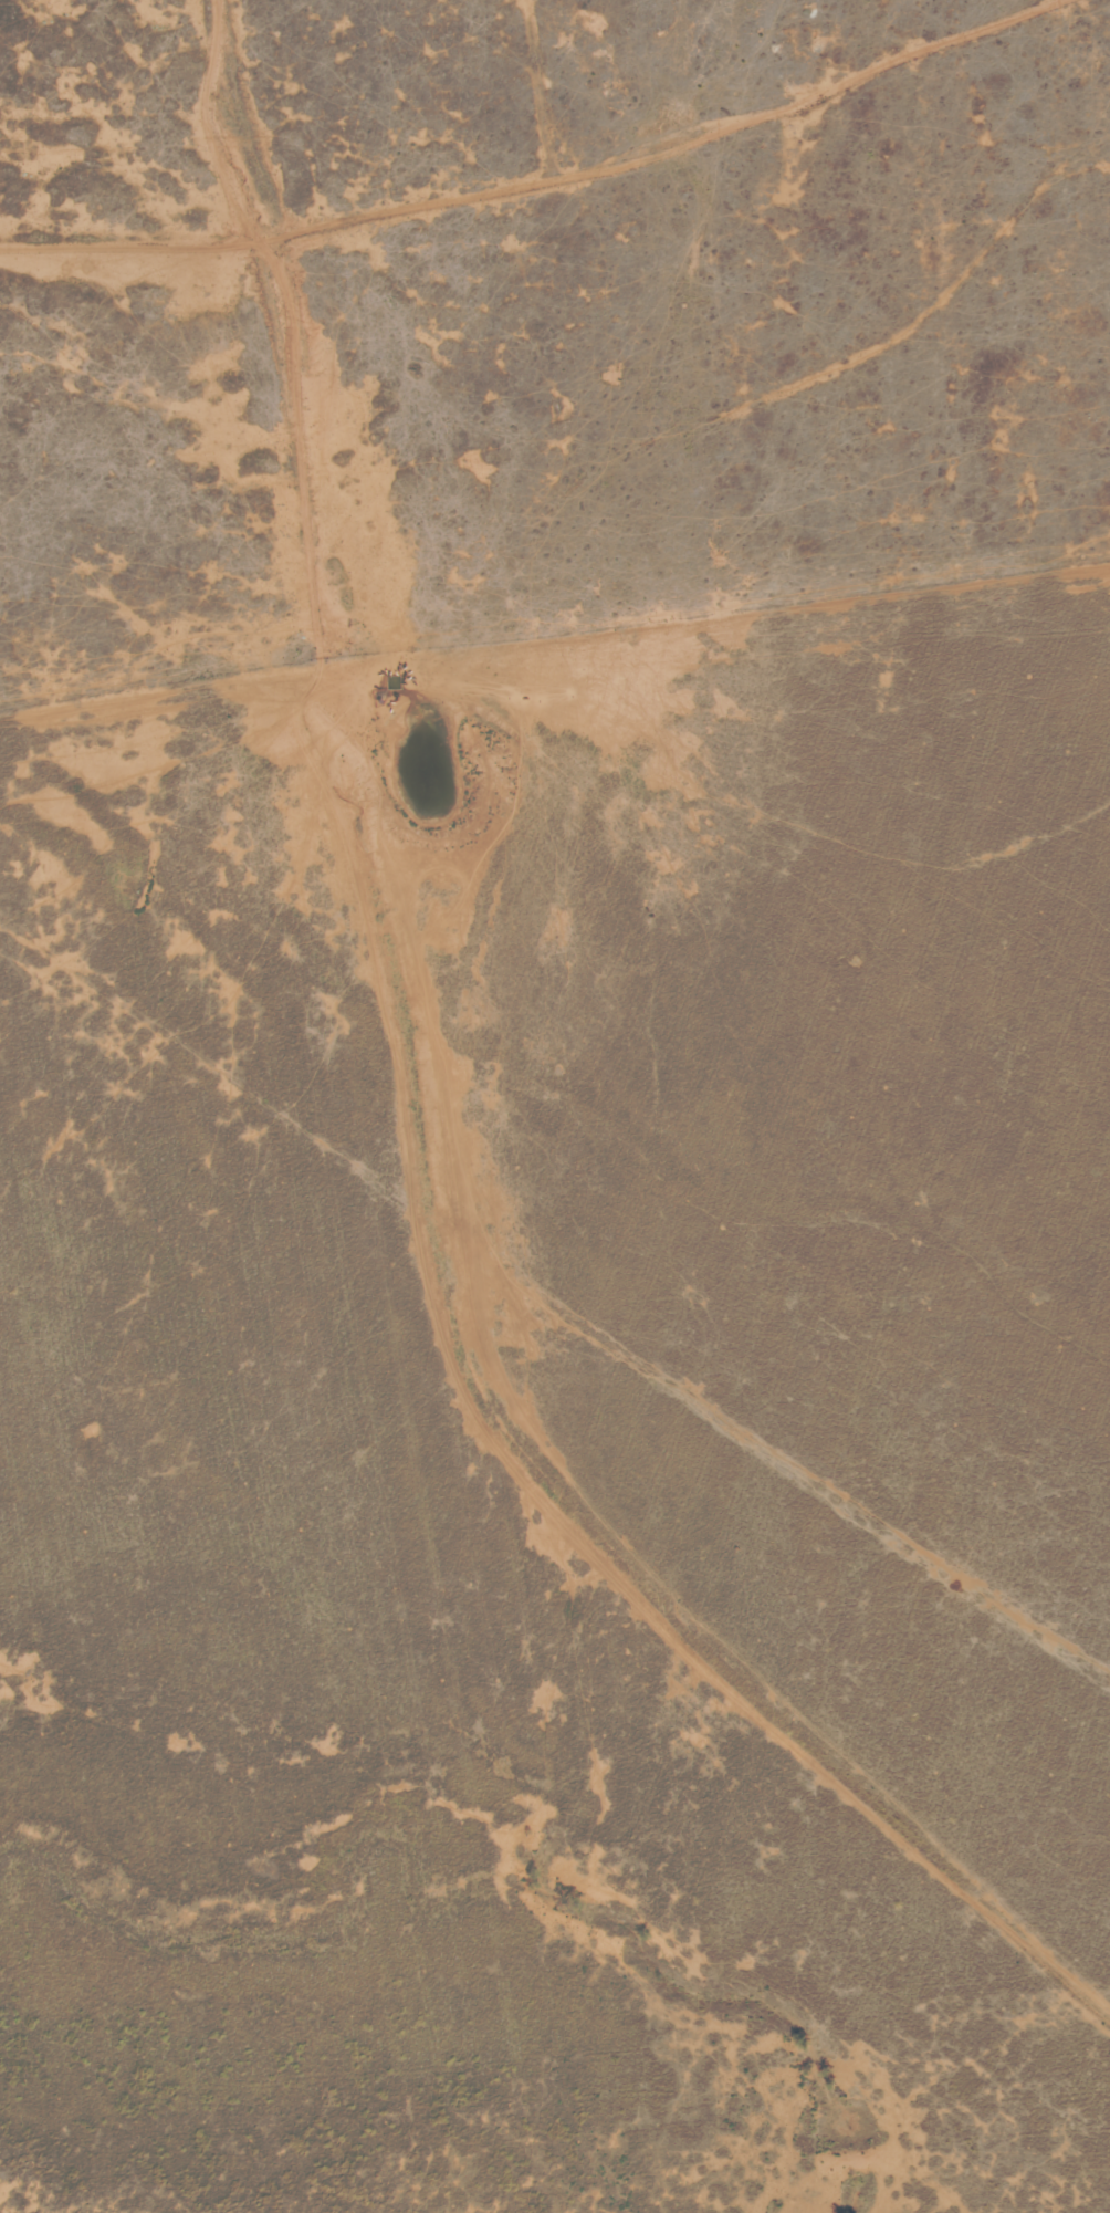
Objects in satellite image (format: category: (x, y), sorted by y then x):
road: (541, 86)
road: (205, 123)
road: (537, 177)
building: (394, 681)
storage tank: (394, 681)
road: (441, 1257)

